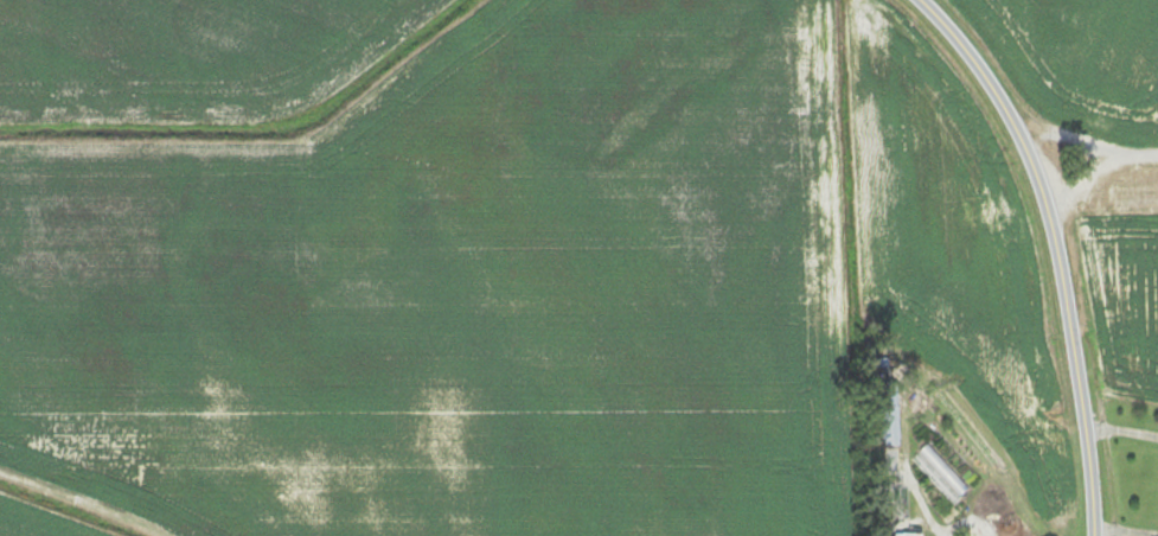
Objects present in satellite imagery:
road: (1049, 249)
building: (887, 420)
road: (911, 484)

